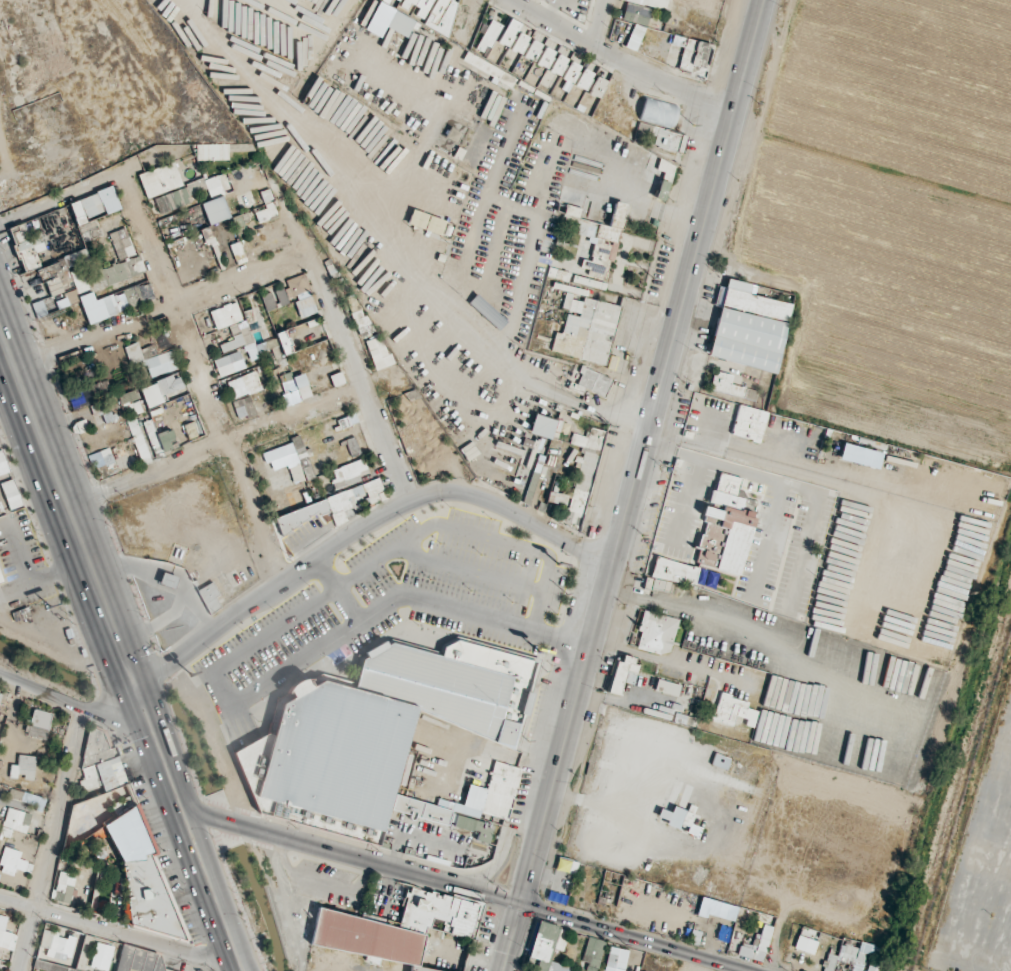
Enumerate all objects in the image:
park: (878, 507)

